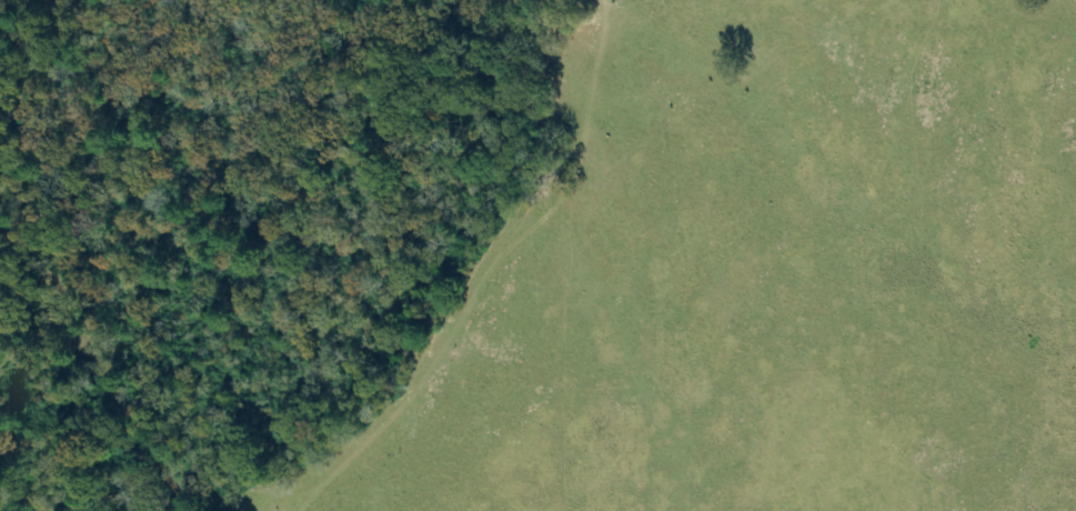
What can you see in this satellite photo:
road: (971, 147)

